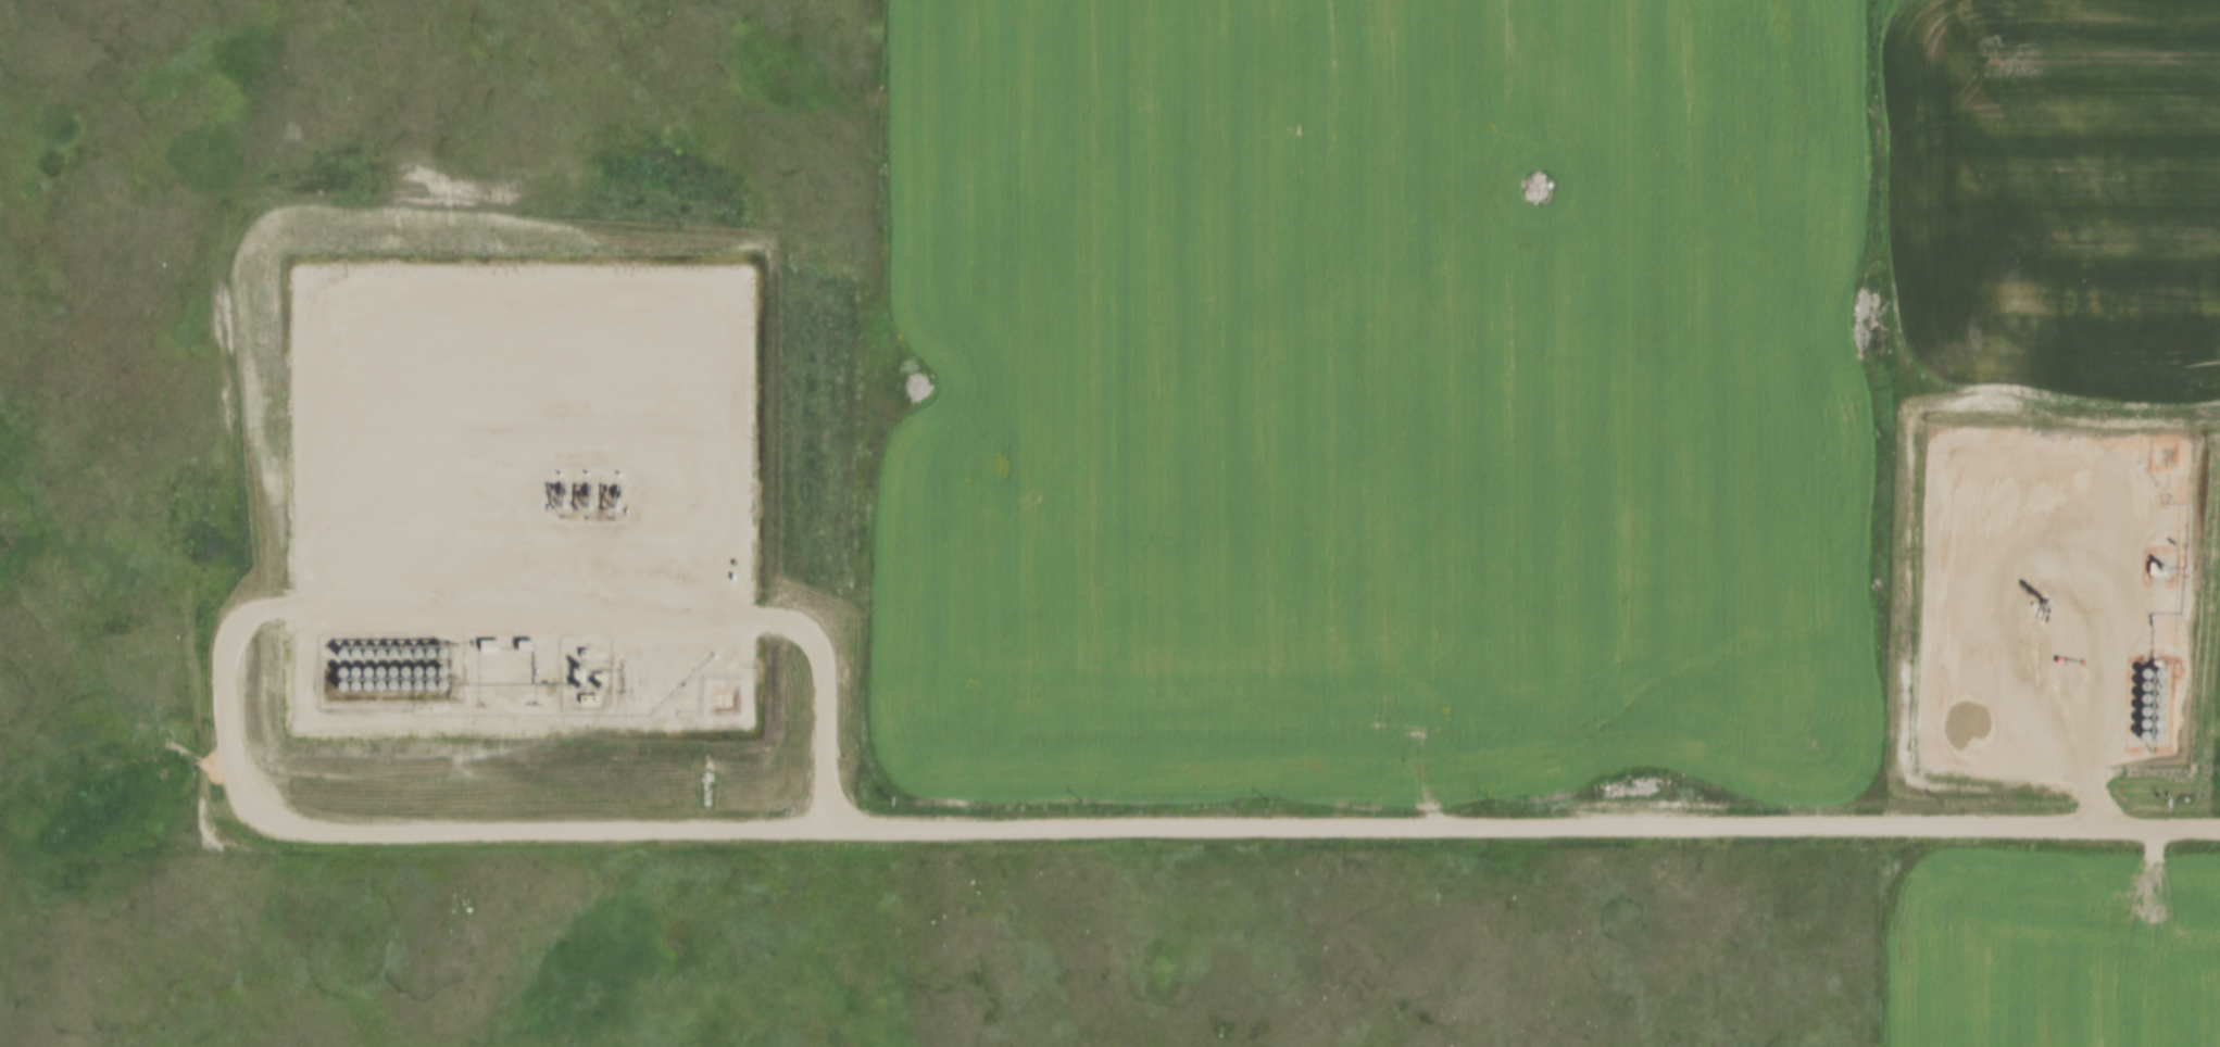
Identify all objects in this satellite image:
road: (1109, 830)

